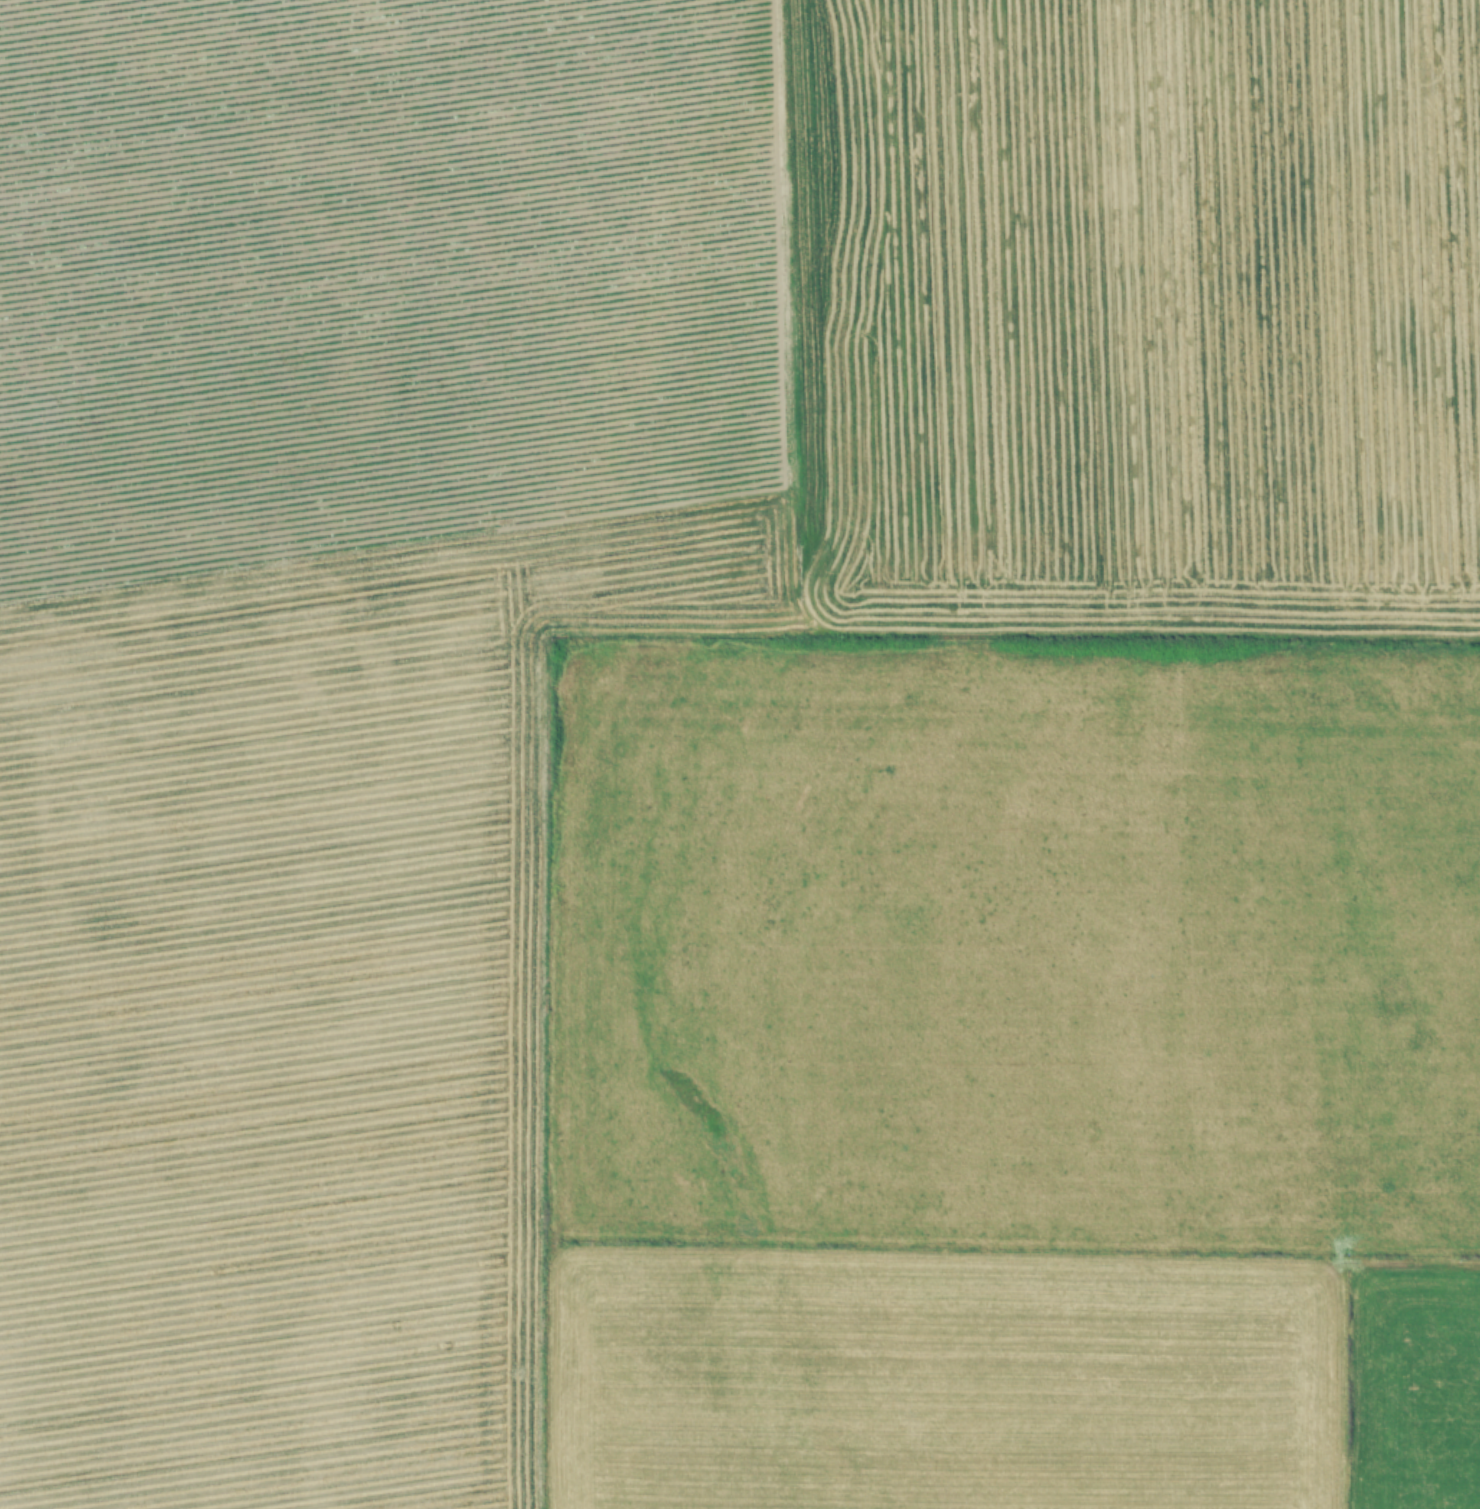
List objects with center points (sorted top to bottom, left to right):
crop: (740, 754)

